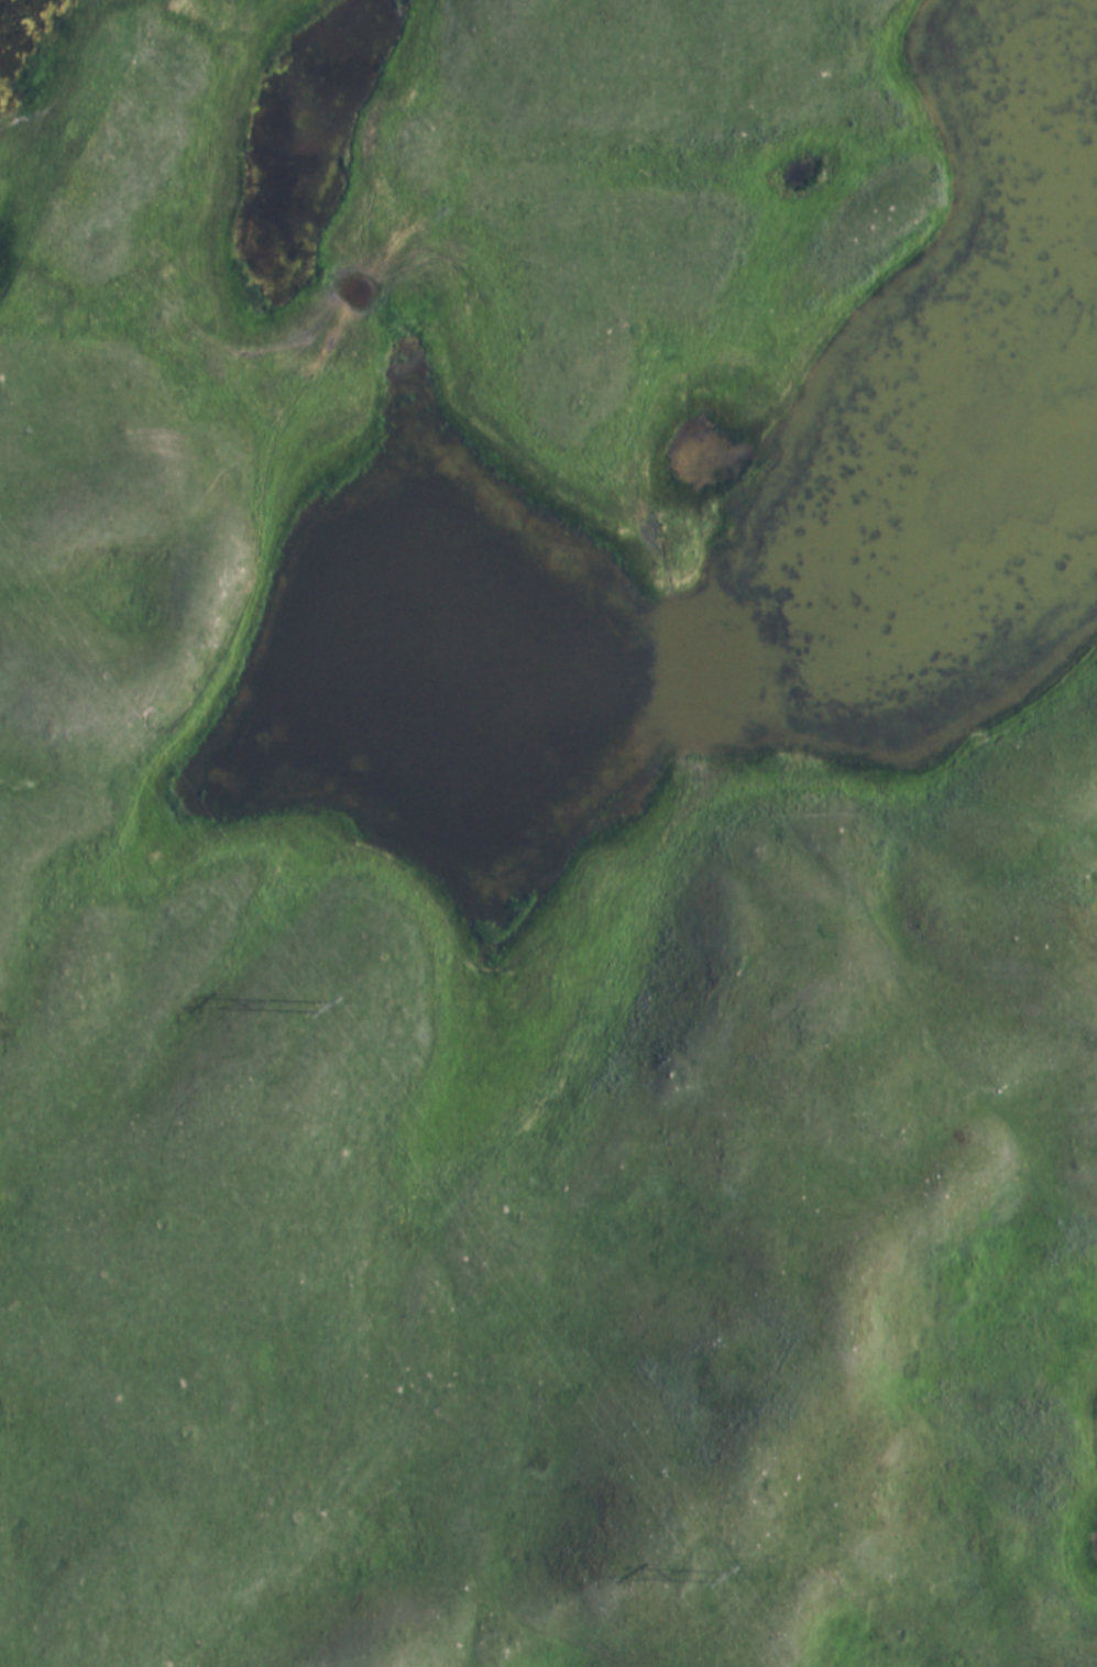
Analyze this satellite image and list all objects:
power tower: (310, 1005)
power tower: (711, 1575)

